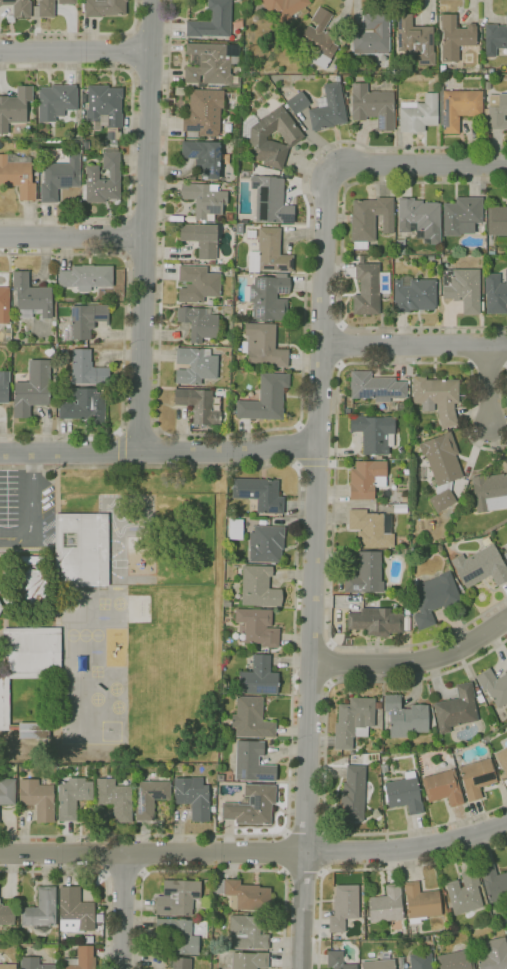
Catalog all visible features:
building: (67, 2)
building: (102, 7)
building: (280, 8)
building: (17, 9)
building: (46, 9)
building: (212, 21)
road: (82, 33)
building: (371, 36)
building: (455, 38)
building: (495, 38)
building: (318, 40)
building: (415, 40)
road: (75, 52)
road: (130, 52)
building: (212, 64)
building: (442, 68)
building: (491, 71)
building: (460, 72)
building: (487, 77)
building: (487, 85)
building: (345, 98)
building: (56, 101)
building: (297, 102)
building: (373, 106)
building: (14, 108)
building: (457, 108)
building: (103, 109)
building: (329, 109)
building: (203, 112)
building: (496, 112)
building: (418, 114)
building: (78, 127)
building: (291, 138)
road: (131, 139)
building: (113, 141)
building: (85, 145)
building: (204, 156)
road: (422, 167)
building: (226, 168)
building: (17, 175)
building: (104, 176)
building: (59, 178)
building: (204, 200)
building: (271, 200)
building: (462, 215)
building: (230, 218)
building: (420, 219)
building: (369, 220)
building: (244, 221)
building: (497, 221)
road: (146, 226)
road: (123, 235)
road: (73, 236)
building: (201, 238)
building: (400, 247)
building: (271, 252)
building: (441, 256)
road: (341, 257)
building: (430, 258)
building: (86, 277)
building: (198, 284)
building: (462, 288)
building: (367, 289)
building: (414, 294)
building: (495, 294)
building: (30, 297)
building: (269, 297)
building: (209, 302)
building: (4, 305)
building: (482, 306)
building: (240, 311)
building: (84, 321)
building: (199, 323)
building: (237, 325)
building: (8, 326)
building: (7, 339)
road: (124, 341)
road: (344, 345)
building: (263, 346)
road: (413, 346)
building: (48, 352)
building: (195, 366)
building: (87, 368)
building: (4, 386)
building: (376, 387)
road: (491, 387)
road: (506, 388)
building: (32, 389)
building: (437, 397)
building: (265, 399)
building: (198, 406)
building: (85, 407)
building: (374, 433)
road: (248, 434)
road: (122, 448)
road: (158, 452)
building: (367, 458)
building: (441, 459)
road: (314, 463)
road: (334, 475)
building: (366, 479)
building: (490, 492)
building: (260, 494)
building: (442, 498)
building: (403, 499)
parking lot: (27, 507)
building: (400, 508)
road: (30, 509)
building: (235, 528)
building: (371, 529)
building: (266, 544)
building: (81, 550)
building: (505, 555)
road: (312, 566)
building: (480, 567)
building: (366, 574)
building: (32, 581)
building: (259, 587)
building: (433, 597)
building: (1, 607)
building: (407, 611)
building: (376, 622)
building: (256, 627)
road: (294, 643)
building: (27, 661)
road: (413, 663)
road: (331, 664)
building: (258, 677)
building: (494, 687)
building: (476, 689)
building: (482, 693)
building: (485, 700)
building: (456, 709)
building: (405, 717)
building: (249, 720)
building: (354, 721)
building: (32, 729)
building: (487, 737)
road: (325, 757)
building: (502, 761)
building: (252, 762)
building: (383, 768)
building: (87, 771)
building: (477, 777)
building: (443, 787)
building: (7, 792)
building: (404, 794)
building: (352, 795)
building: (149, 796)
building: (193, 796)
building: (72, 797)
building: (38, 798)
building: (115, 798)
building: (252, 806)
building: (213, 809)
road: (305, 831)
road: (283, 852)
road: (326, 852)
road: (255, 853)
road: (368, 867)
road: (214, 870)
road: (99, 873)
road: (303, 873)
road: (124, 876)
building: (494, 884)
building: (464, 893)
building: (243, 894)
building: (180, 897)
building: (420, 902)
building: (447, 904)
building: (386, 905)
building: (443, 905)
building: (343, 907)
building: (41, 908)
building: (75, 911)
building: (448, 911)
road: (121, 912)
building: (7, 914)
building: (248, 932)
building: (412, 932)
building: (178, 935)
building: (424, 939)
building: (89, 940)
building: (494, 954)
building: (80, 959)
building: (249, 960)
building: (455, 960)
building: (337, 961)
building: (421, 961)
building: (400, 962)
building: (34, 963)
building: (181, 963)
building: (379, 964)
building: (8, 966)

